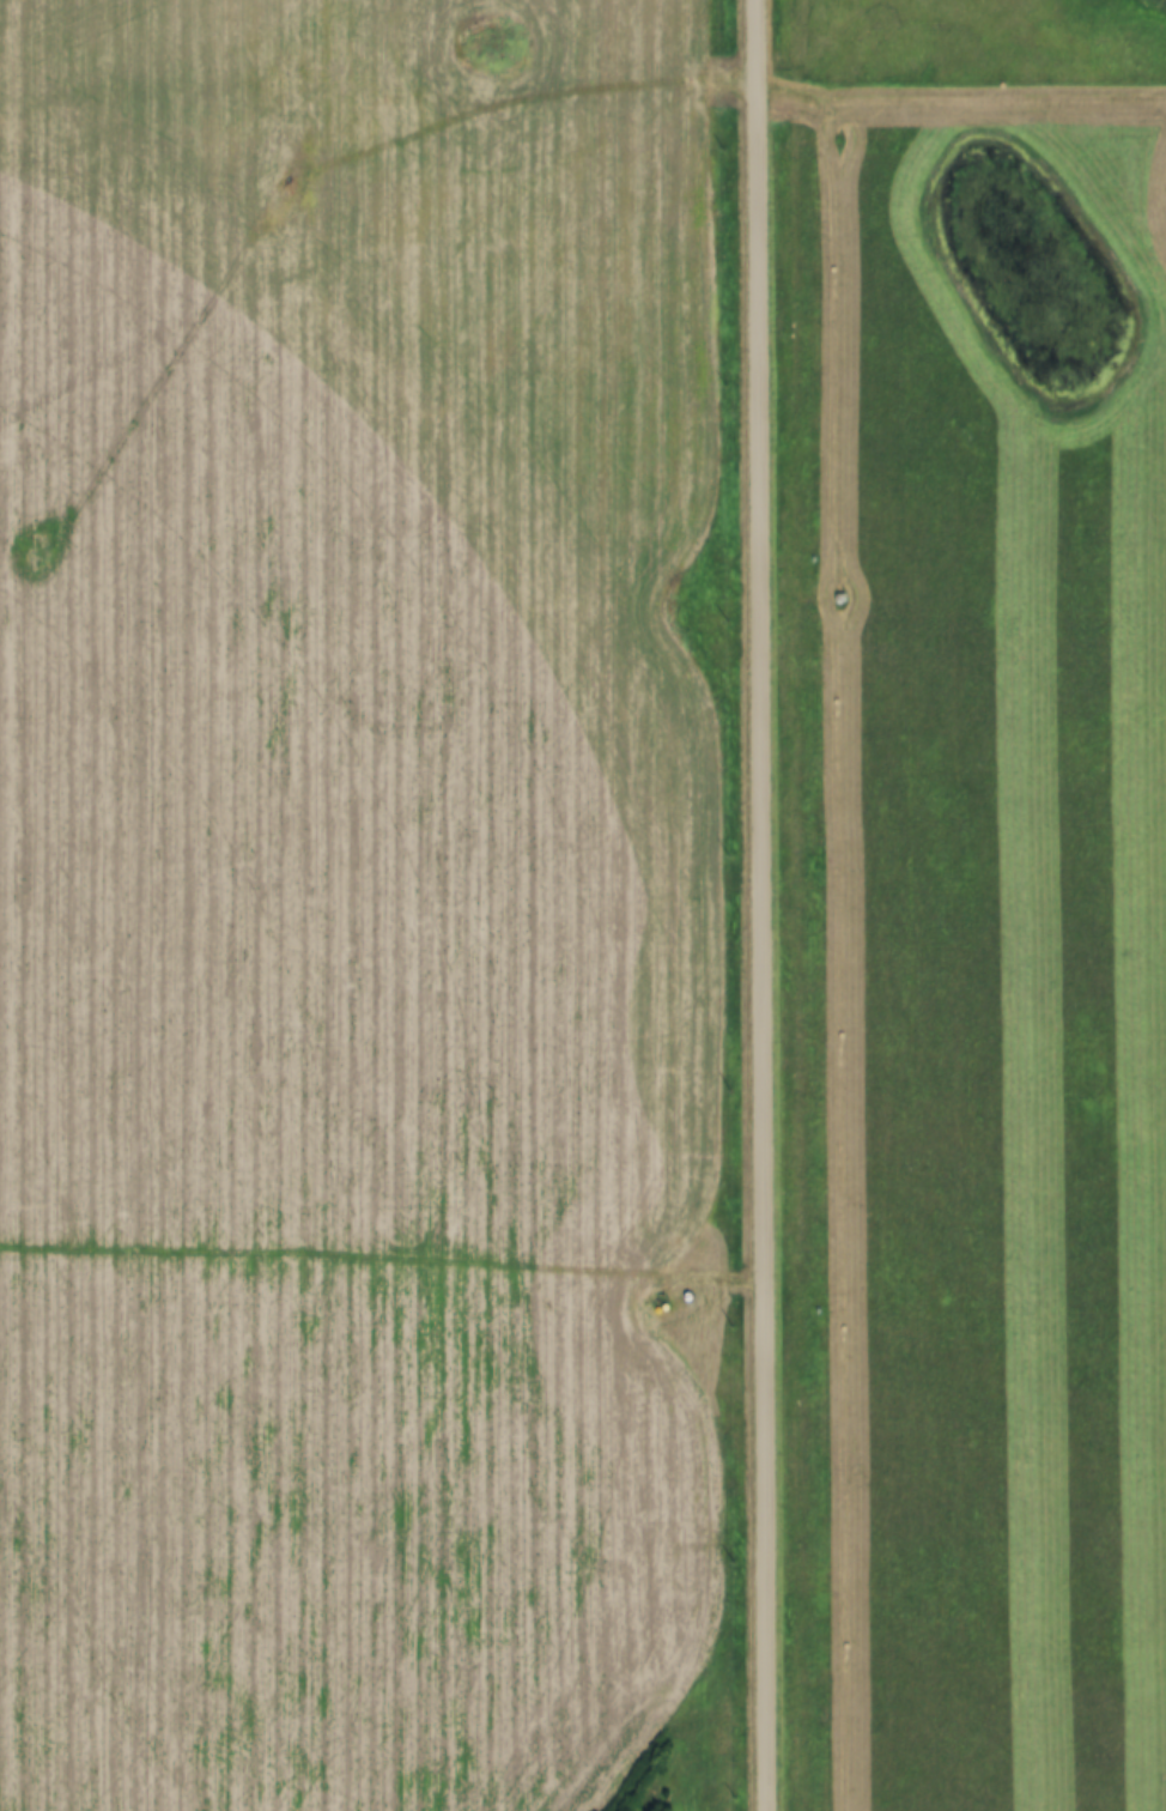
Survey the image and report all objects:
road: (767, 904)
road: (384, 1271)

